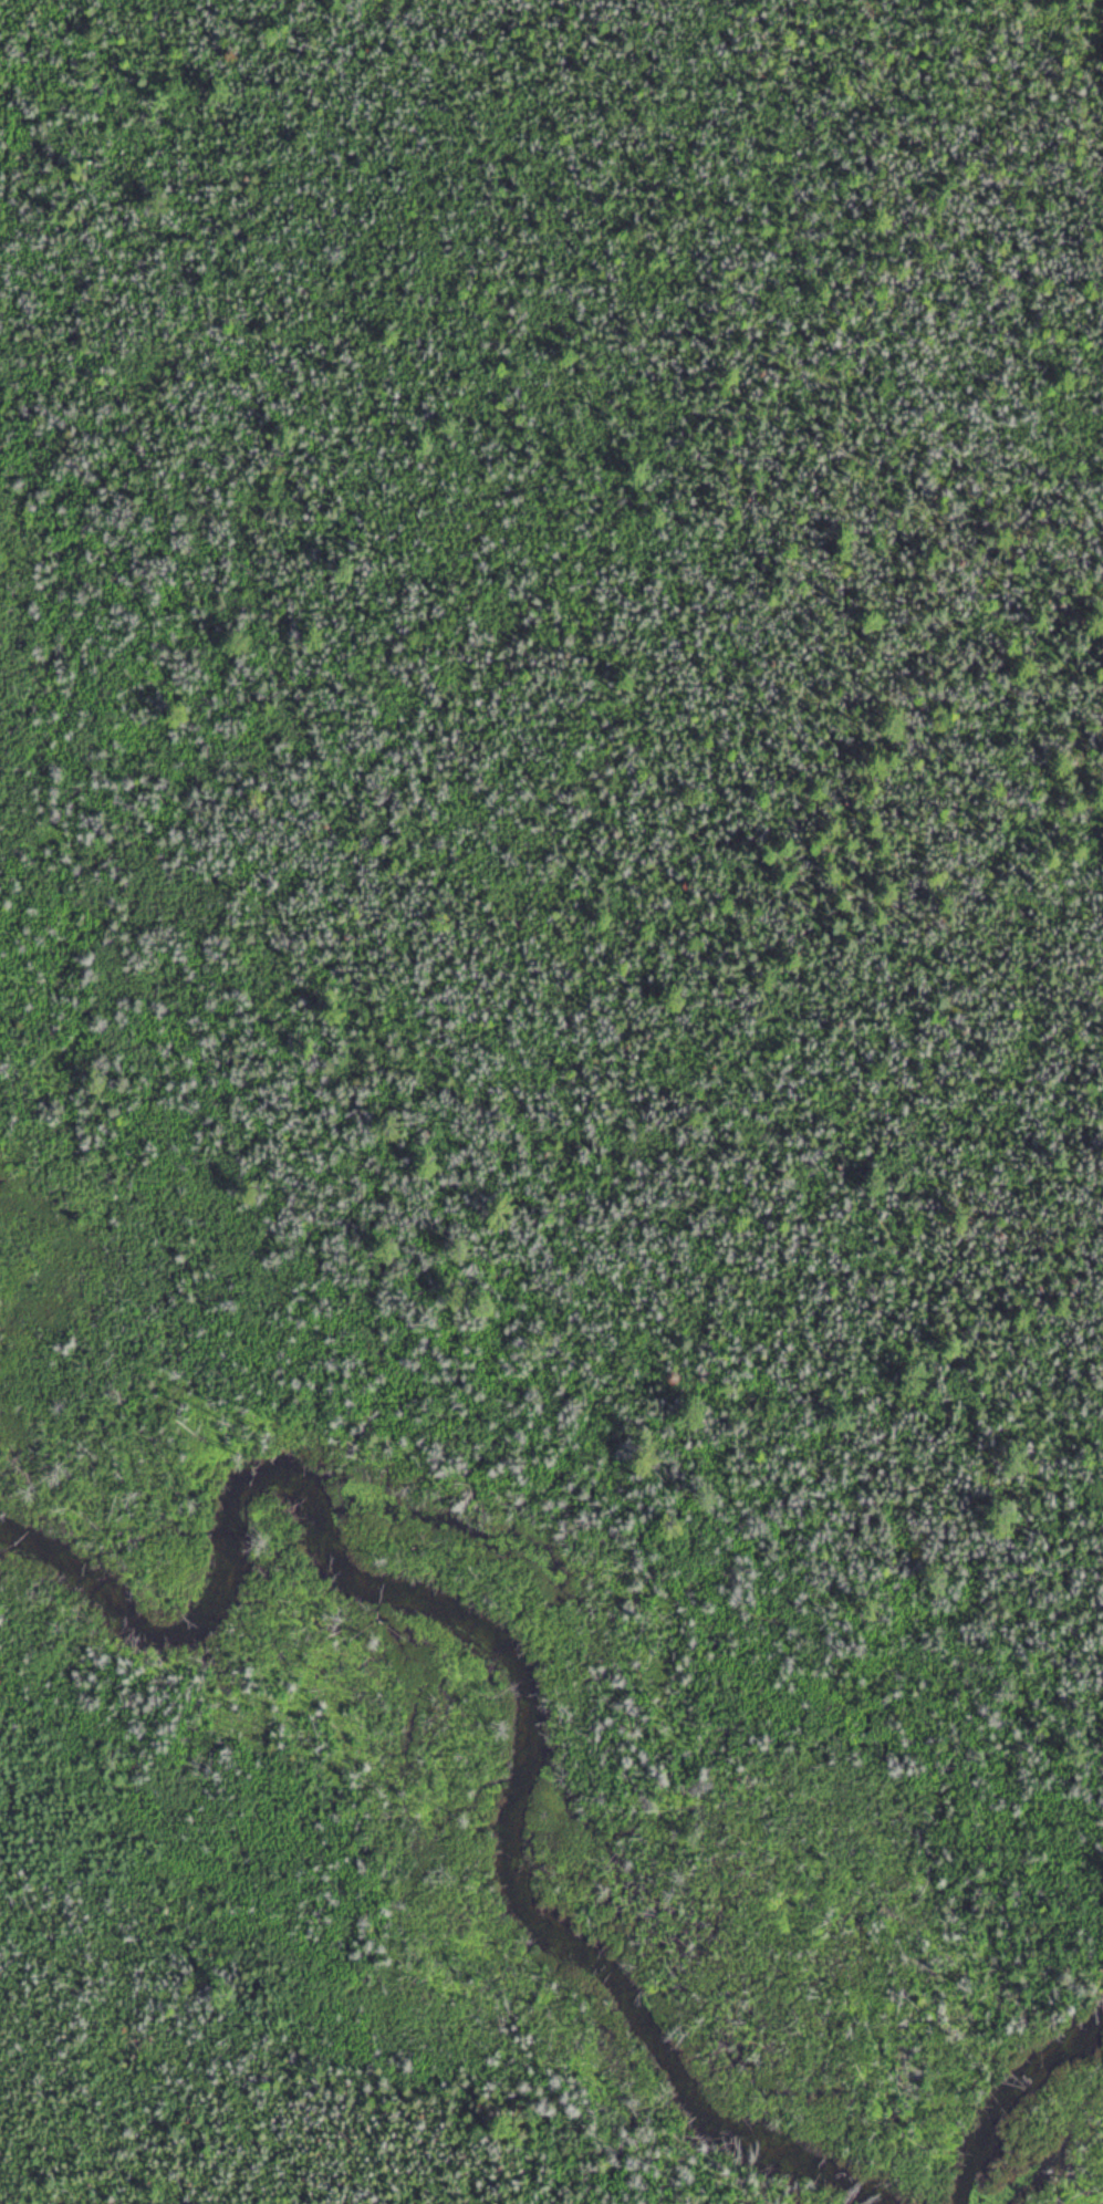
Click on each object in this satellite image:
river: (506, 1649)
river: (1009, 2098)

